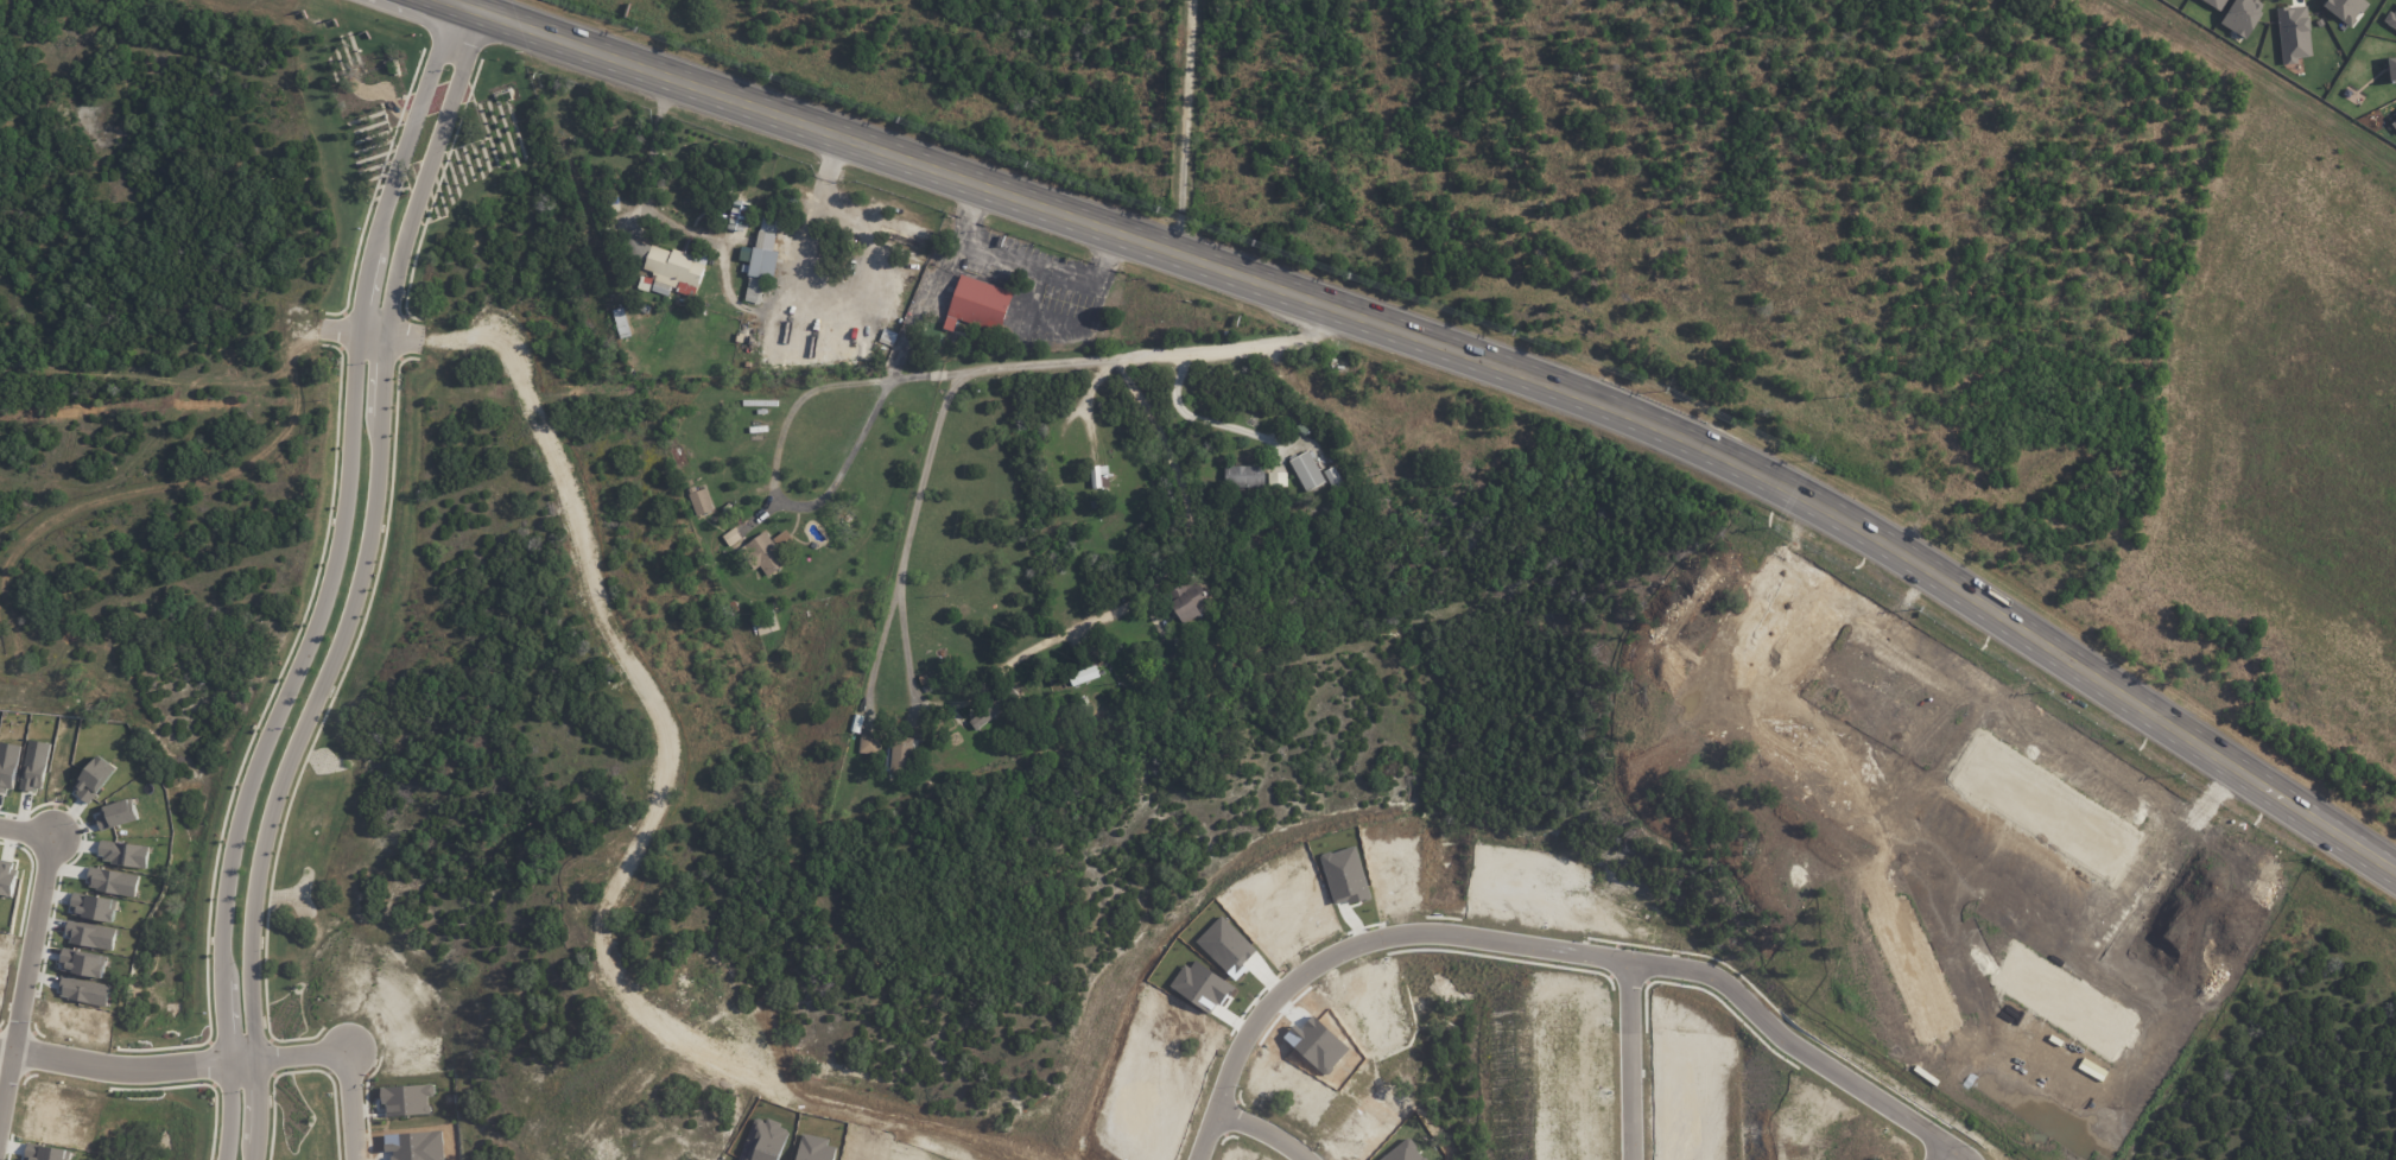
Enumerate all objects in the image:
building: (2216, 4)
road: (473, 5)
building: (2345, 9)
road: (501, 11)
building: (2242, 15)
building: (2390, 20)
building: (2293, 33)
building: (2391, 69)
building: (2394, 123)
road: (1185, 127)
road: (813, 216)
building: (760, 259)
road: (1028, 264)
building: (665, 265)
building: (906, 293)
building: (977, 306)
building: (621, 323)
road: (372, 335)
road: (1457, 353)
road: (1147, 355)
road: (1086, 405)
road: (1203, 421)
road: (205, 444)
road: (775, 467)
building: (1307, 471)
building: (1097, 475)
building: (1244, 476)
building: (1278, 478)
building: (1333, 478)
building: (701, 501)
building: (769, 551)
road: (325, 582)
road: (351, 585)
building: (1189, 600)
road: (996, 673)
building: (1084, 676)
road: (615, 696)
building: (1887, 710)
building: (988, 712)
building: (869, 744)
building: (901, 755)
building: (8, 766)
building: (34, 766)
building: (94, 779)
building: (2050, 810)
building: (116, 814)
building: (125, 854)
building: (7, 880)
building: (113, 882)
road: (820, 883)
building: (94, 907)
building: (91, 936)
road: (1546, 944)
road: (31, 955)
building: (84, 991)
building: (2064, 1001)
road: (1633, 1059)
road: (349, 1060)
road: (128, 1070)
road: (1263, 1129)

